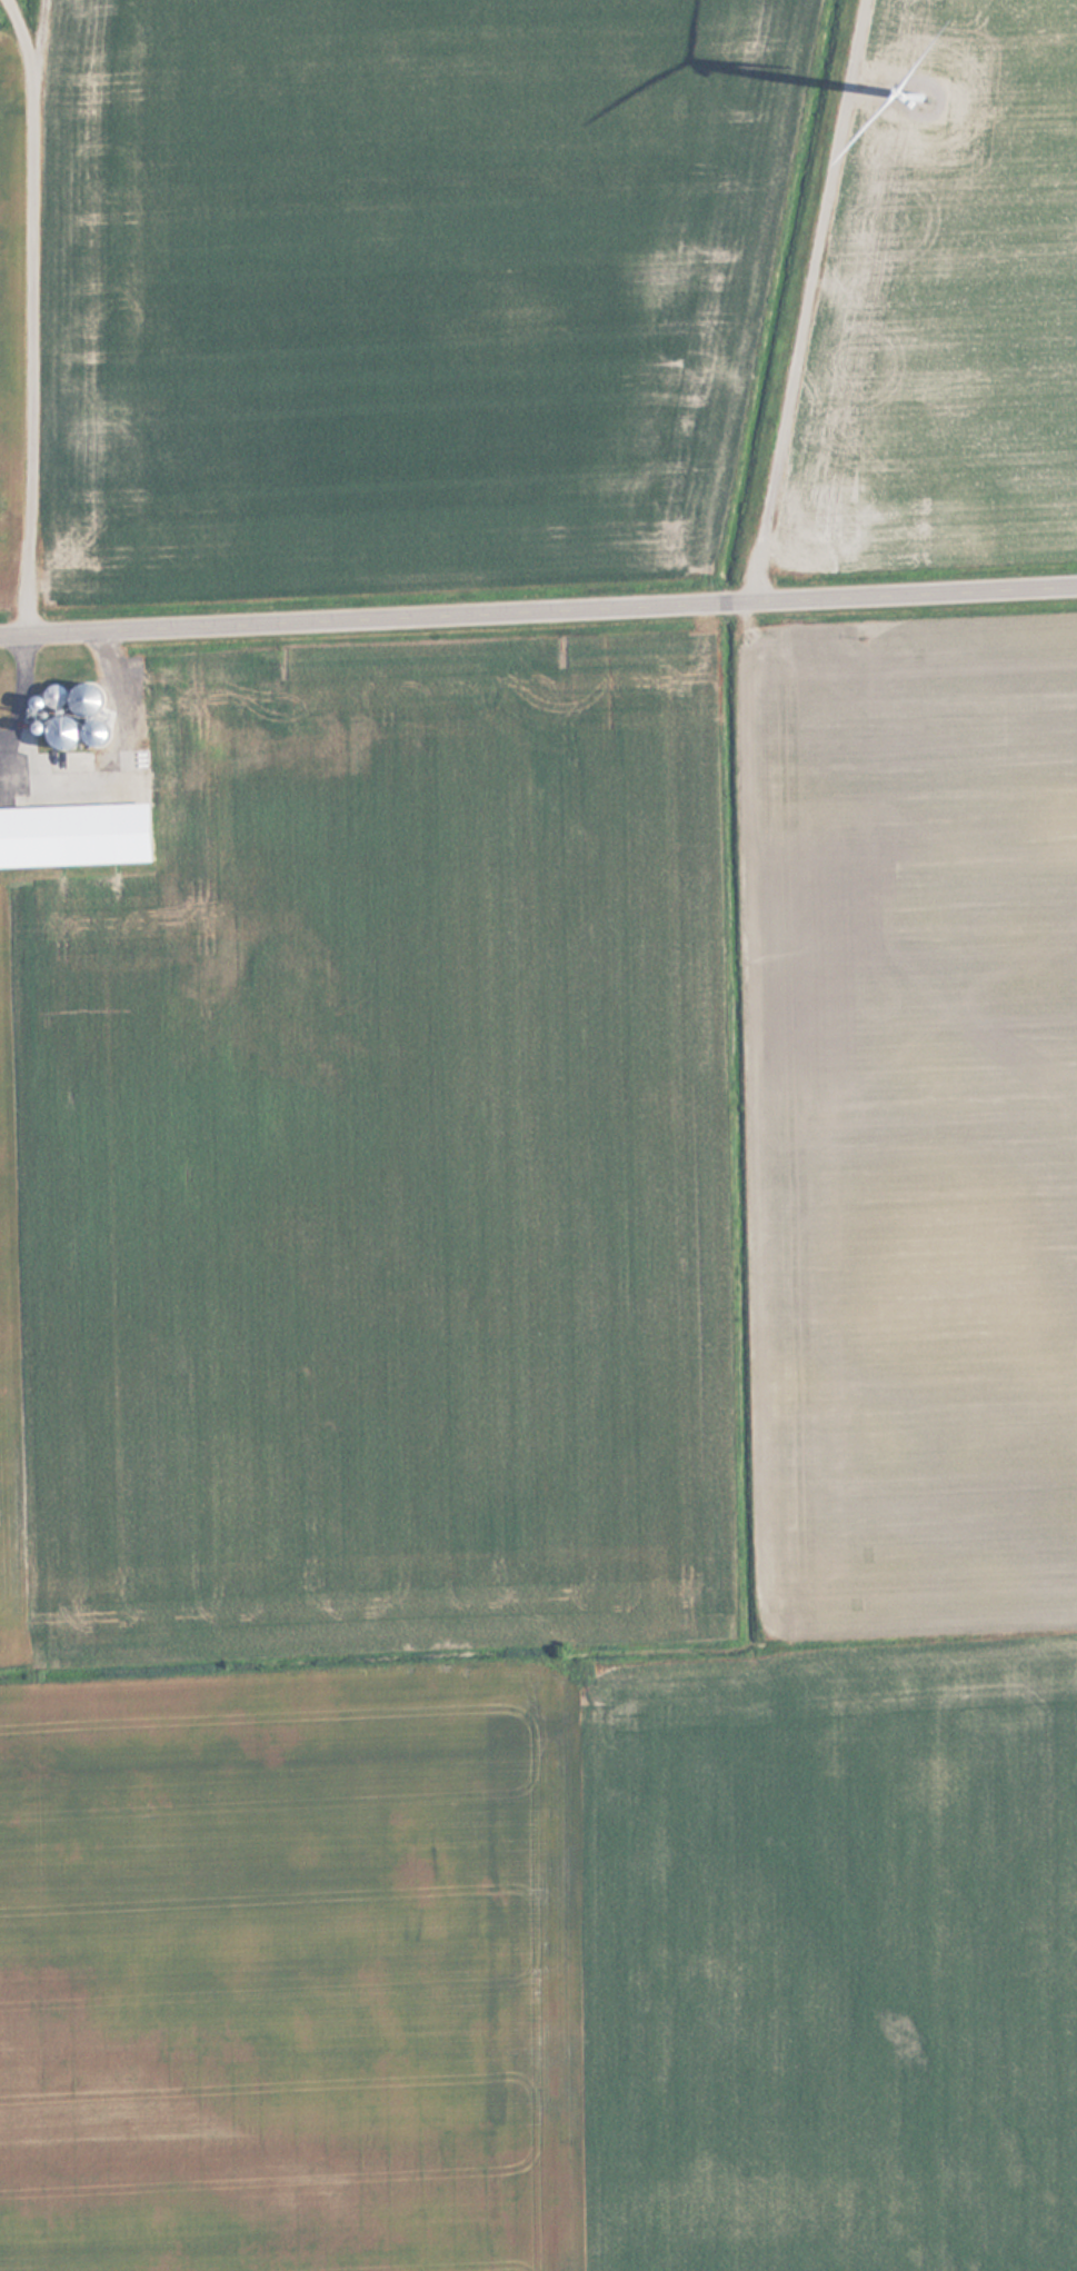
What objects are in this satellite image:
wind turbine: (920, 96)
road: (810, 302)
road: (29, 315)
road: (538, 611)
building: (48, 696)
building: (77, 700)
building: (52, 728)
building: (59, 773)
building: (29, 839)

